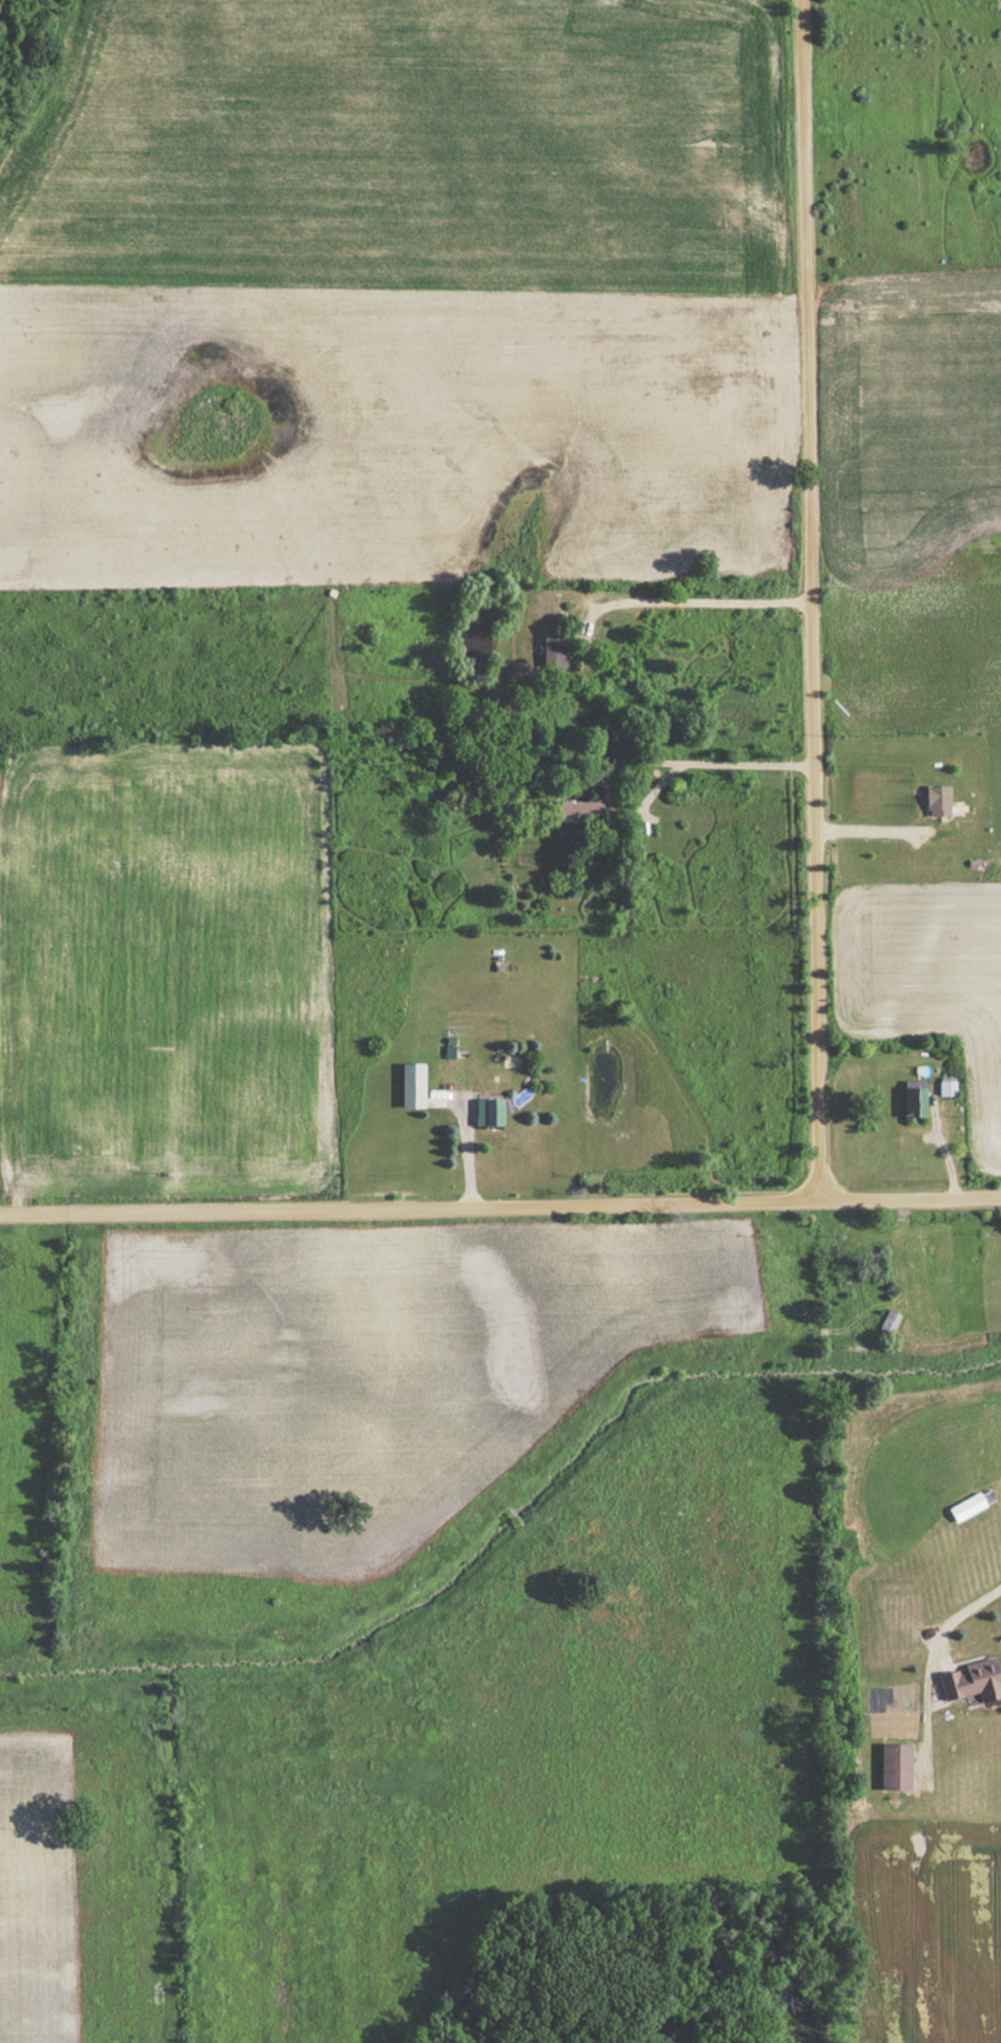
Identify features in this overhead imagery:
road: (817, 603)
building: (550, 652)
building: (935, 801)
building: (578, 811)
building: (410, 1085)
building: (945, 1086)
building: (912, 1100)
building: (486, 1109)
road: (500, 1213)
building: (887, 1320)
building: (969, 1504)
building: (969, 1680)
building: (893, 1765)

